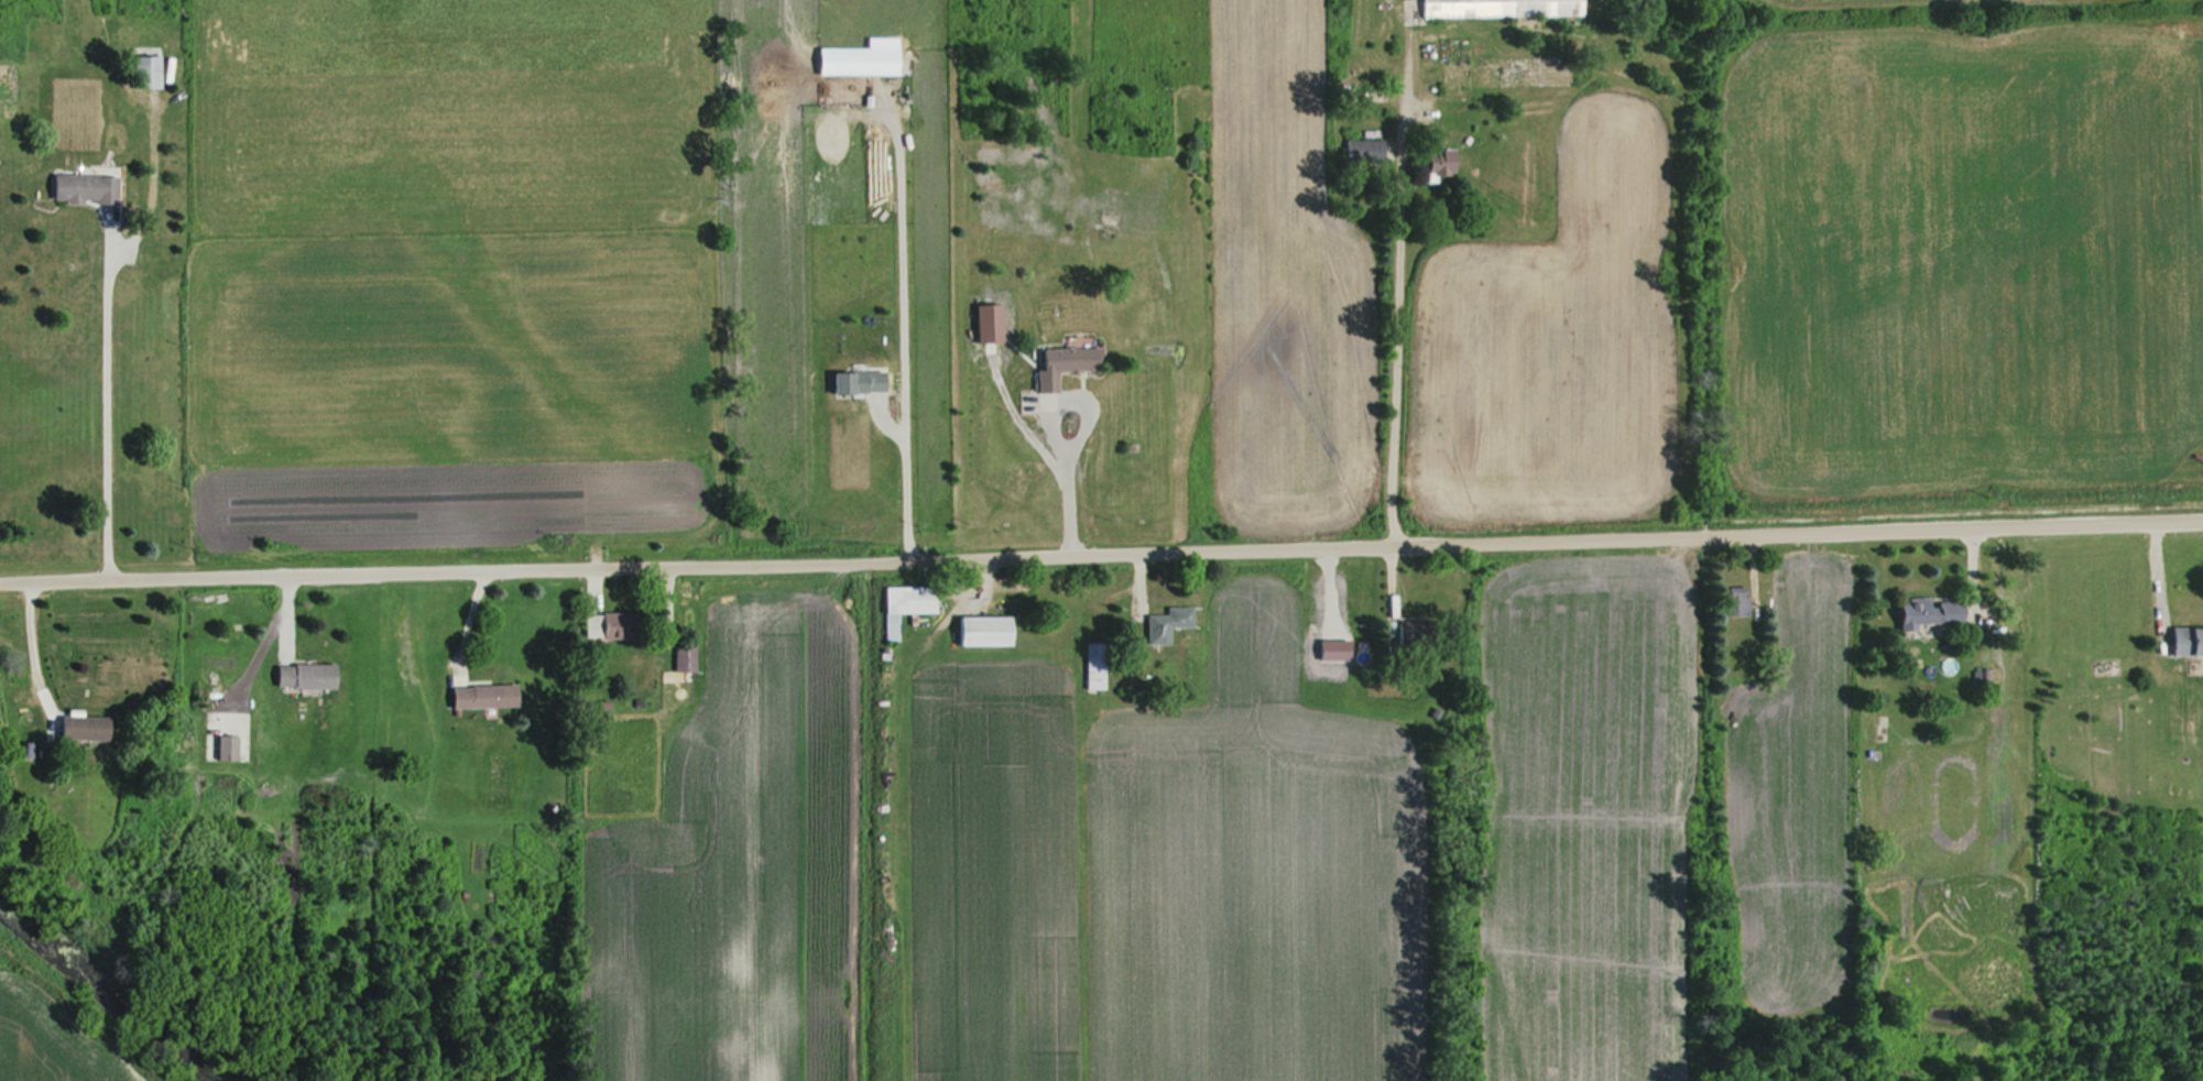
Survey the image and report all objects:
building: (1495, 8)
building: (851, 61)
building: (141, 72)
building: (1361, 151)
building: (1431, 162)
building: (76, 188)
road: (905, 320)
building: (1059, 361)
road: (1394, 364)
building: (852, 383)
road: (103, 398)
road: (1056, 428)
road: (1101, 553)
building: (1734, 599)
building: (899, 605)
building: (1921, 610)
building: (1162, 623)
building: (596, 625)
building: (978, 631)
road: (28, 636)
building: (2182, 641)
building: (678, 658)
building: (1090, 665)
building: (297, 675)
building: (476, 696)
building: (75, 728)
building: (221, 747)

